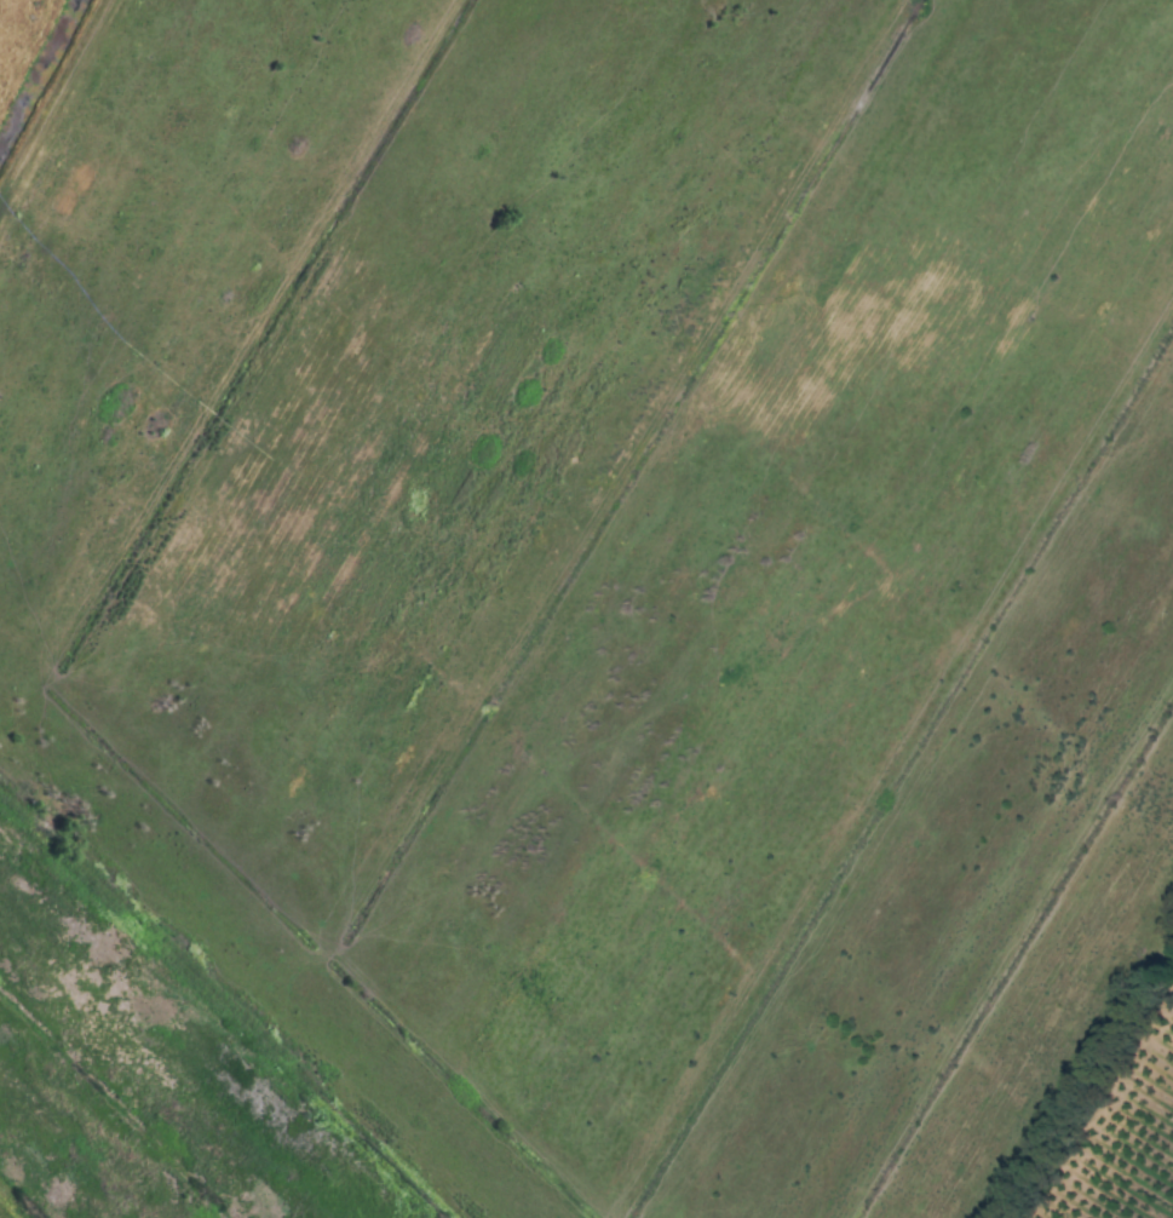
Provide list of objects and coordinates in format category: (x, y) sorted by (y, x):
crop: (586, 609)

